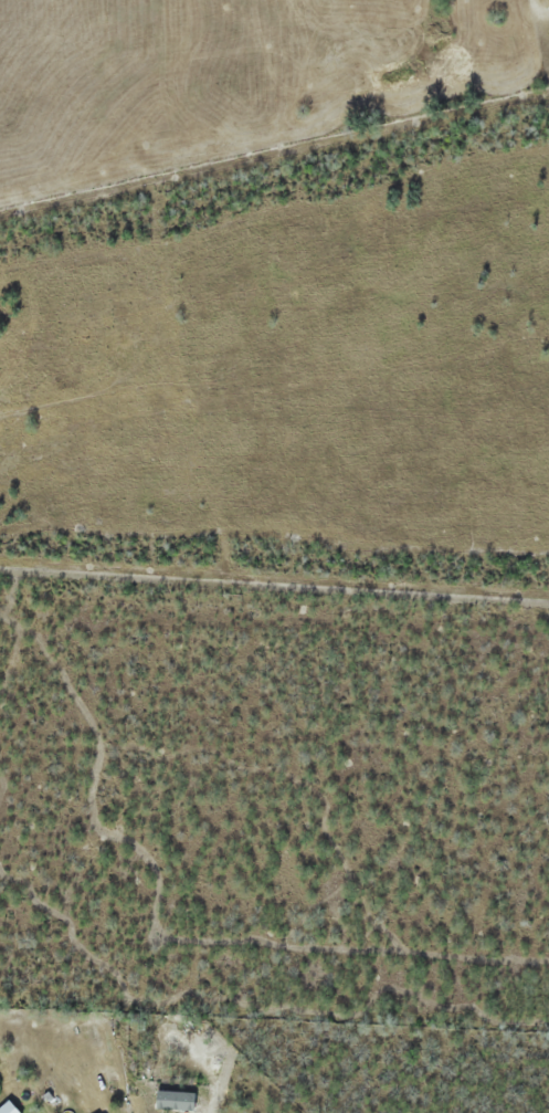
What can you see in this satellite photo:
building: (172, 1032)
building: (6, 1107)

